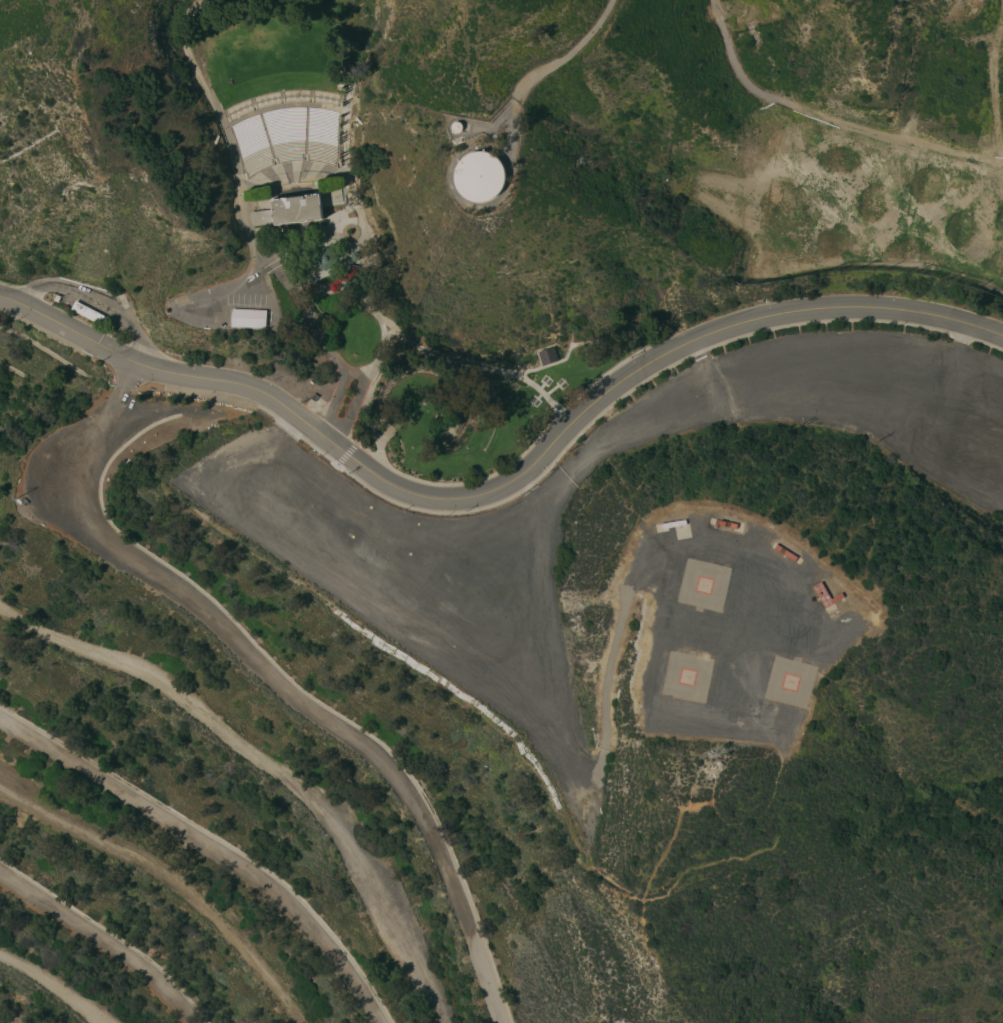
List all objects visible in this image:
road: (566, 54)
road: (282, 106)
road: (825, 123)
building: (457, 124)
storage tank: (457, 124)
road: (337, 141)
road: (304, 164)
road: (277, 167)
road: (287, 169)
building: (480, 173)
storage tank: (480, 173)
road: (241, 179)
road: (347, 195)
building: (289, 210)
road: (245, 217)
building: (324, 258)
road: (90, 294)
parking lot: (245, 299)
building: (87, 312)
building: (249, 317)
road: (69, 326)
road: (315, 335)
park: (368, 352)
road: (958, 352)
building: (546, 355)
road: (706, 359)
road: (347, 400)
road: (560, 436)
building: (715, 521)
building: (674, 522)
building: (728, 522)
road: (731, 551)
building: (787, 552)
helipad: (703, 583)
building: (825, 595)
parking lot: (481, 641)
helipad: (686, 676)
road: (605, 681)
helipad: (789, 681)
road: (278, 682)
road: (271, 764)
road: (211, 850)
road: (102, 939)
road: (52, 986)

